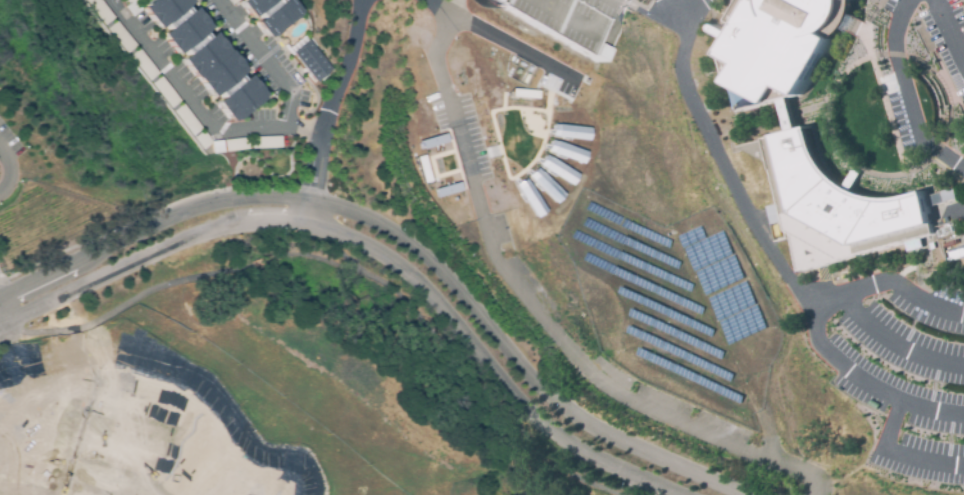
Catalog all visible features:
building: (128, 0)
building: (232, 1)
road: (644, 6)
road: (452, 7)
building: (98, 11)
building: (266, 13)
road: (955, 13)
road: (716, 14)
building: (172, 18)
building: (572, 22)
parking garage: (572, 22)
park: (489, 26)
road: (585, 26)
road: (950, 27)
building: (120, 37)
building: (781, 43)
road: (512, 47)
road: (881, 54)
road: (260, 59)
building: (311, 61)
building: (142, 65)
building: (210, 65)
parking lot: (925, 83)
road: (880, 87)
building: (163, 93)
road: (907, 95)
building: (238, 98)
road: (811, 106)
road: (198, 108)
road: (332, 110)
building: (787, 114)
road: (948, 115)
building: (185, 121)
road: (734, 130)
building: (569, 131)
building: (200, 140)
building: (265, 141)
building: (235, 145)
park: (464, 147)
building: (216, 148)
building: (565, 151)
road: (717, 157)
road: (239, 162)
road: (6, 165)
building: (557, 169)
road: (946, 169)
road: (898, 172)
building: (544, 185)
building: (943, 190)
building: (940, 196)
building: (529, 197)
building: (840, 204)
road: (958, 209)
building: (944, 229)
road: (405, 235)
road: (373, 248)
building: (956, 254)
road: (351, 265)
road: (919, 265)
road: (887, 282)
solar farm: (678, 298)
road: (537, 312)
road: (893, 343)
parking lot: (897, 366)
road: (865, 383)
road: (763, 428)
road: (896, 455)

